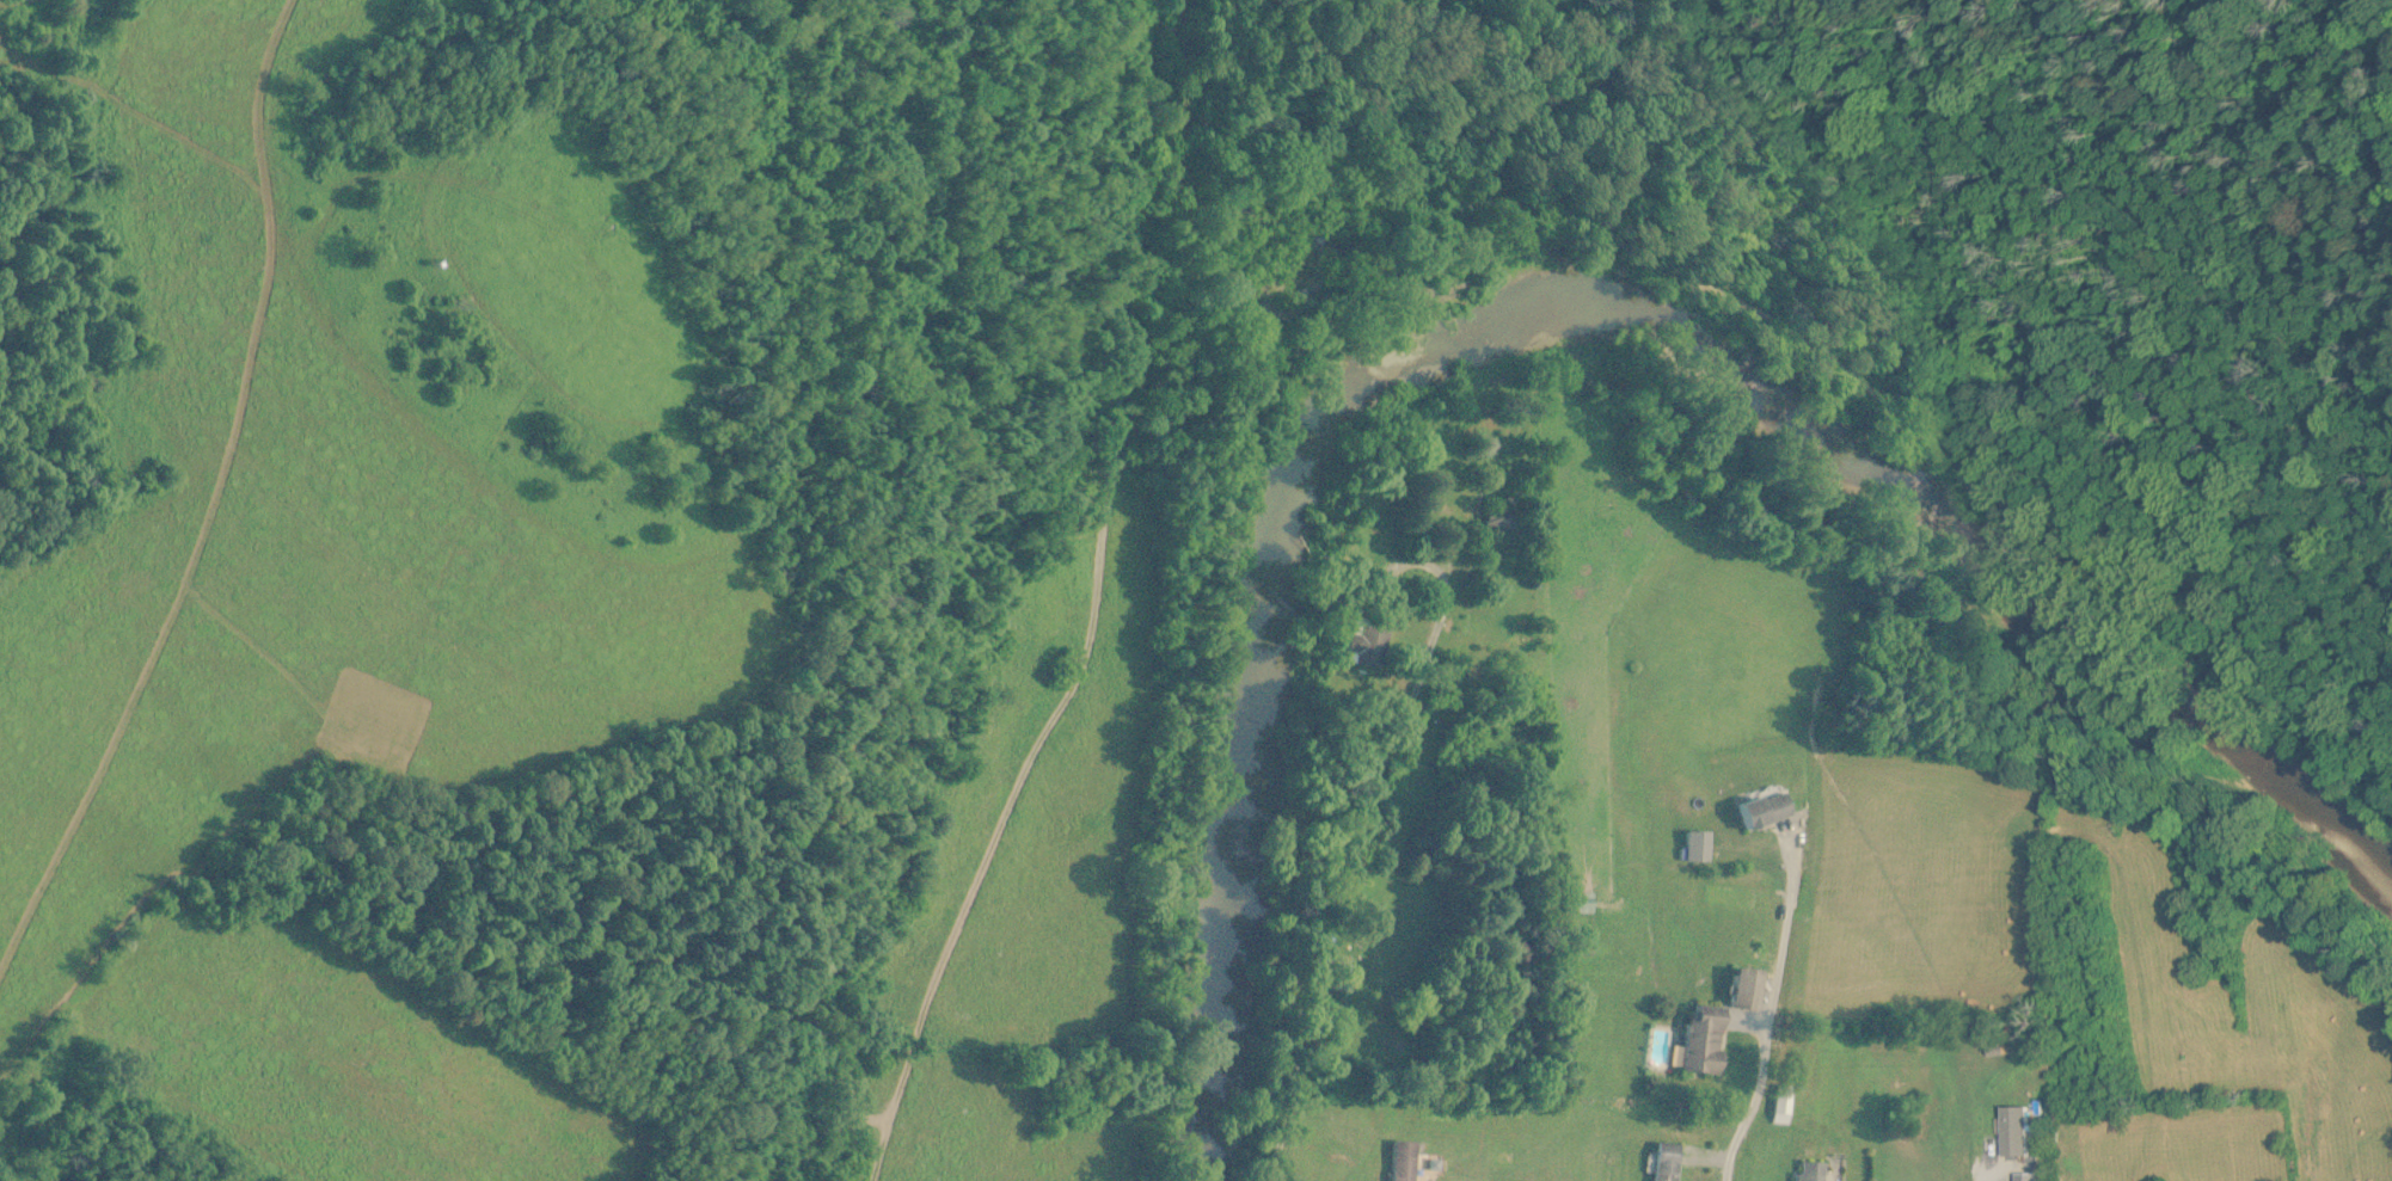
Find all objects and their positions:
park: (1980, 247)
river: (1548, 290)
road: (1768, 318)
building: (1503, 521)
road: (1084, 615)
building: (1765, 811)
road: (1770, 1014)
road: (1986, 1177)

